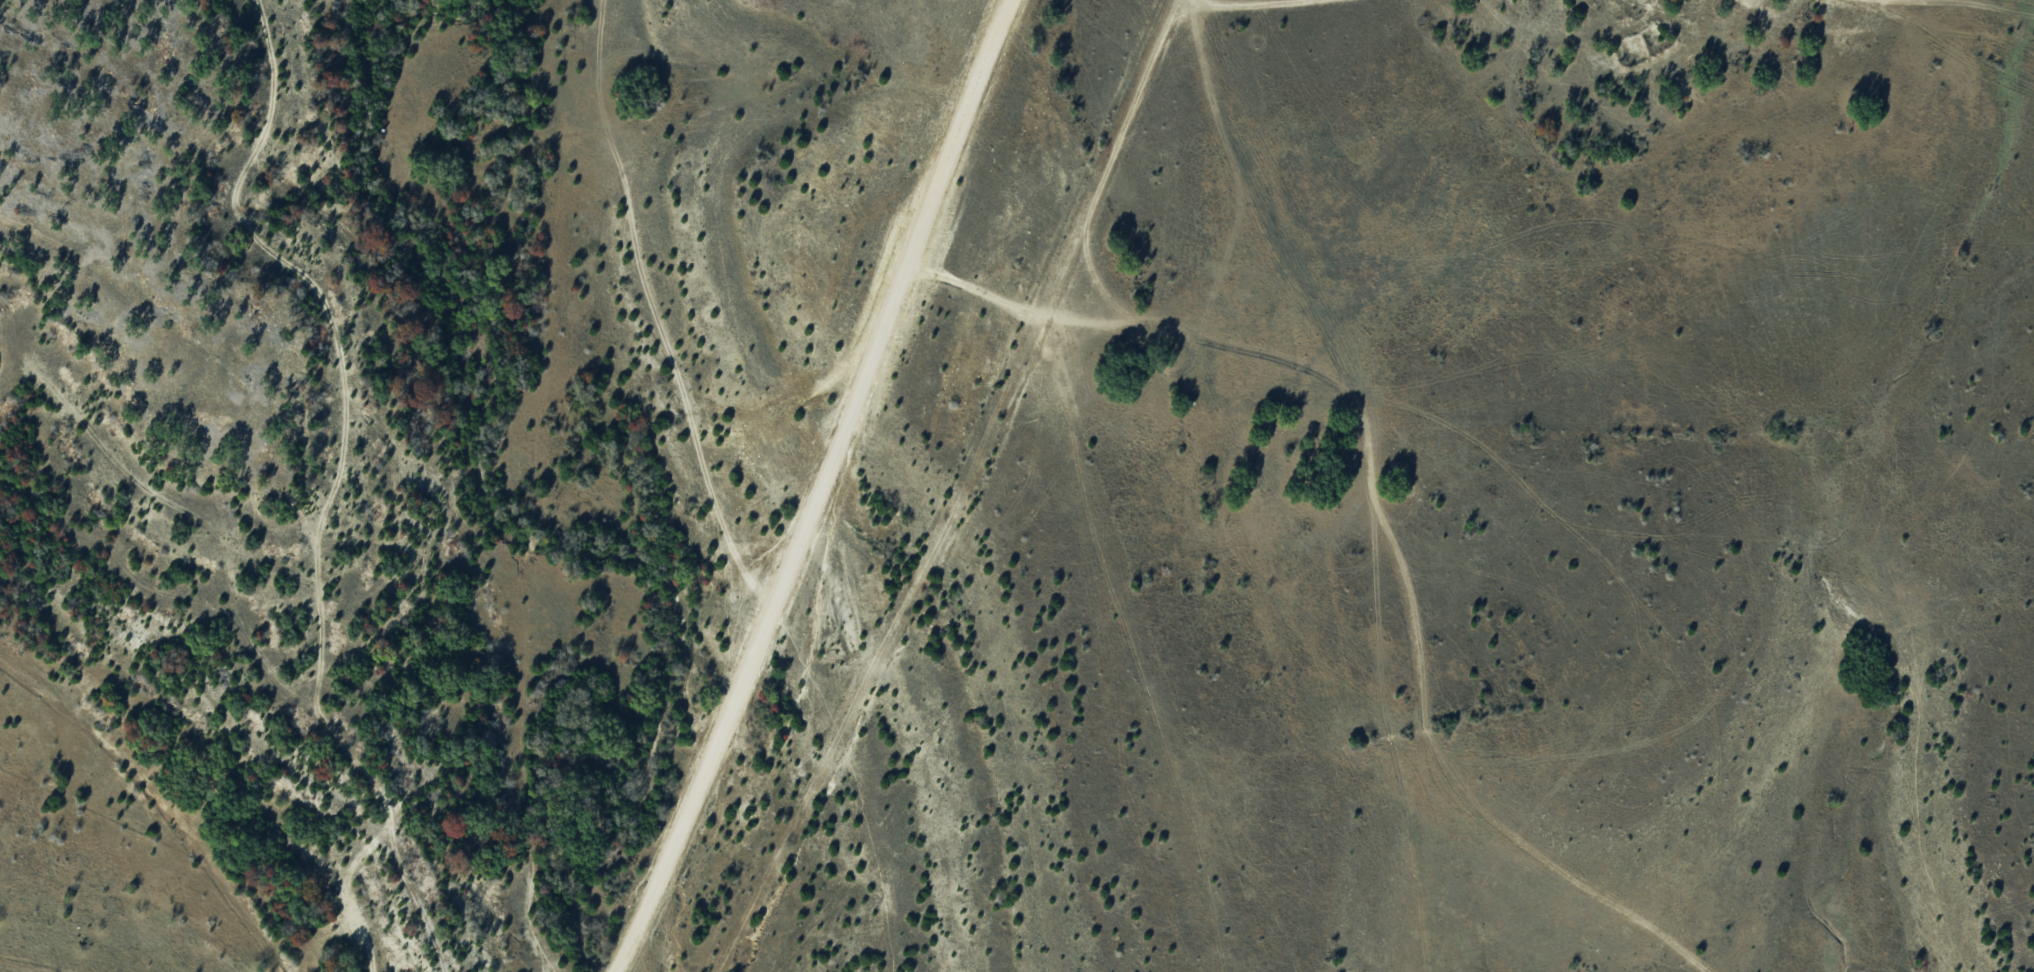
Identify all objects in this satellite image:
road: (819, 489)

